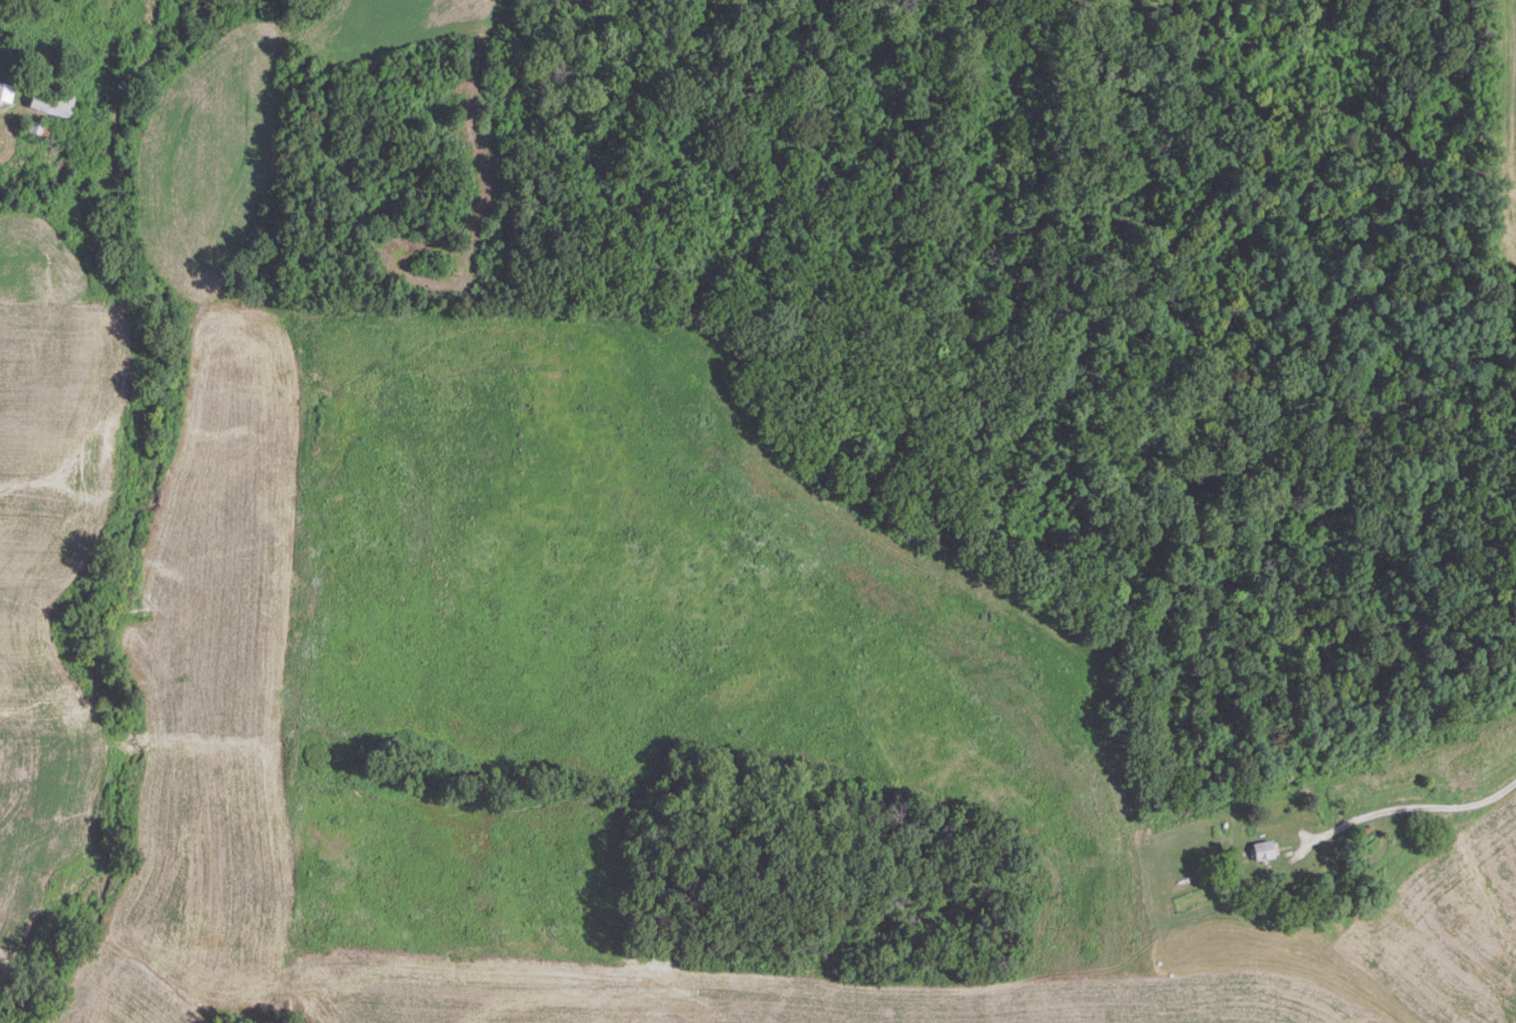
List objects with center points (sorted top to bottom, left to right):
building: (5, 93)
building: (50, 104)
building: (33, 128)
crop: (1502, 132)
crop: (51, 555)
road: (1421, 804)
building: (1262, 850)

